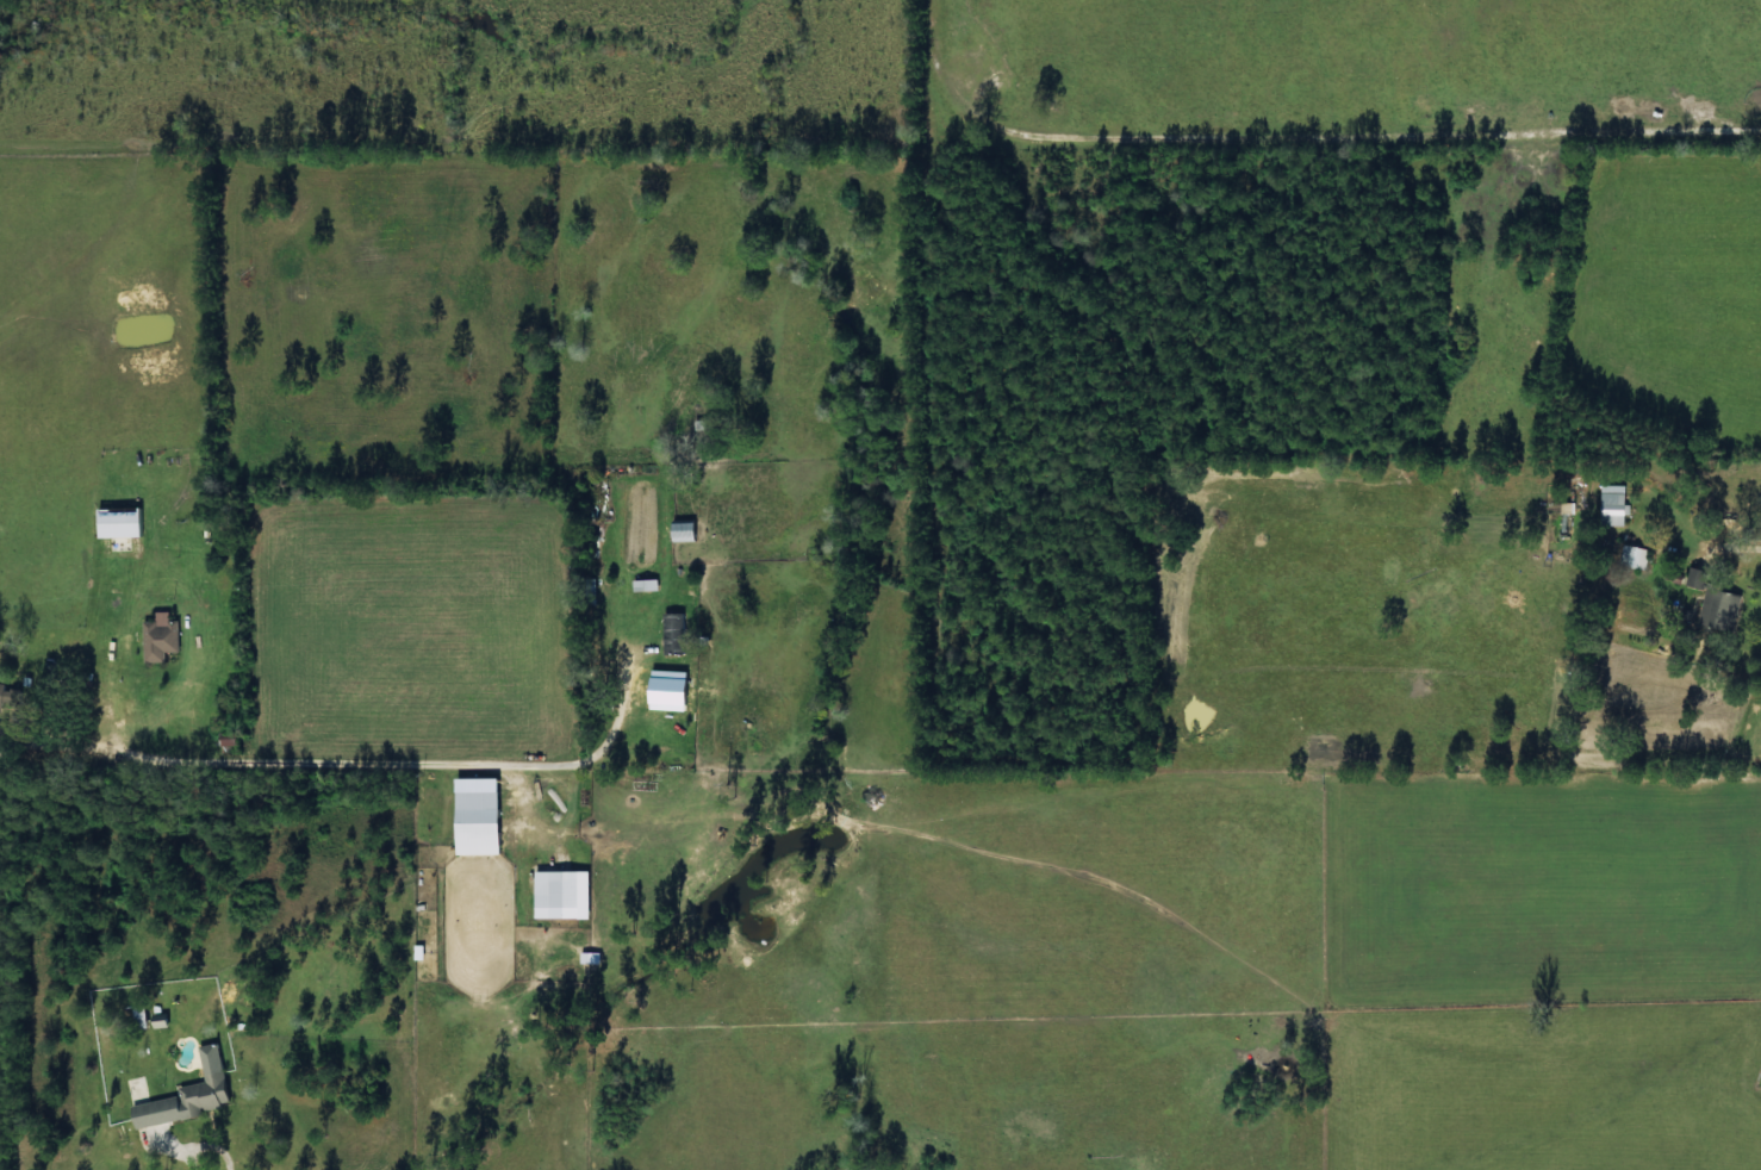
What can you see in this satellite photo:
building: (1612, 505)
building: (125, 522)
building: (649, 584)
building: (1723, 610)
building: (678, 633)
building: (164, 637)
building: (11, 695)
building: (484, 822)
building: (567, 894)
building: (589, 957)
road: (11, 977)
building: (194, 1094)

